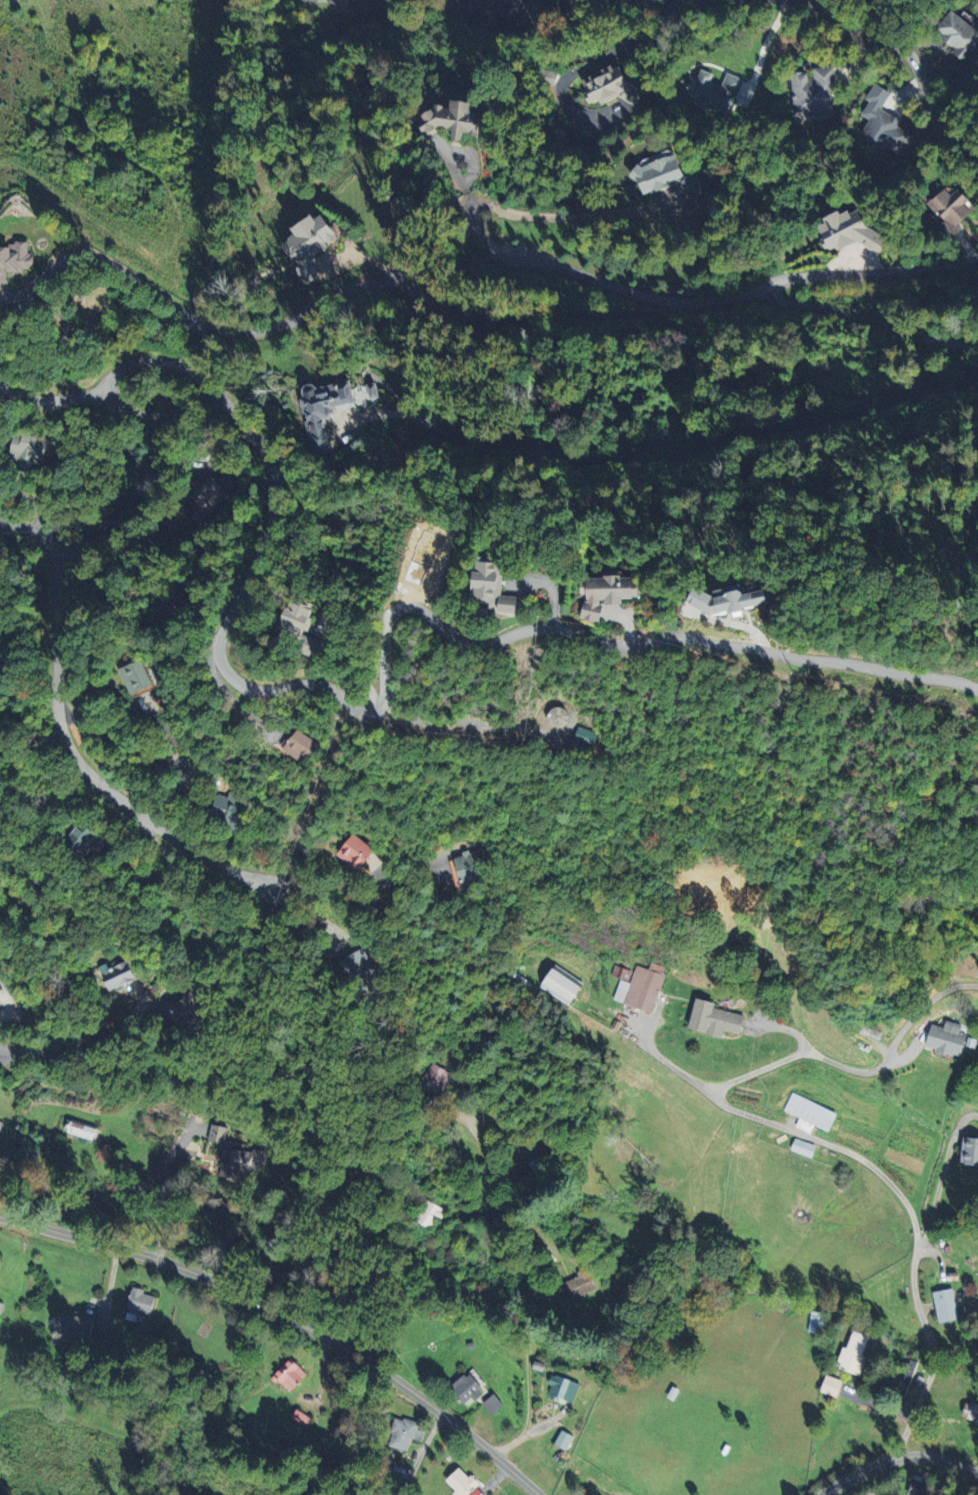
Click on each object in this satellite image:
building: (334, 2)
building: (488, 12)
building: (957, 34)
road: (765, 44)
road: (905, 57)
road: (587, 64)
building: (609, 87)
building: (711, 91)
building: (809, 92)
building: (450, 119)
building: (878, 122)
building: (661, 177)
building: (946, 209)
road: (576, 214)
building: (298, 245)
building: (21, 259)
road: (319, 302)
road: (687, 303)
road: (866, 325)
road: (50, 398)
building: (319, 411)
building: (28, 449)
road: (664, 454)
building: (213, 494)
road: (33, 501)
building: (466, 589)
building: (585, 595)
building: (174, 601)
building: (705, 602)
building: (291, 627)
building: (137, 677)
road: (280, 690)
building: (583, 736)
building: (302, 746)
road: (140, 756)
road: (86, 771)
building: (229, 807)
building: (82, 835)
building: (358, 852)
building: (469, 869)
building: (358, 968)
building: (115, 976)
building: (564, 987)
building: (642, 987)
building: (196, 1005)
building: (716, 1019)
building: (948, 1038)
road: (637, 1039)
road: (899, 1039)
road: (75, 1048)
road: (764, 1068)
building: (436, 1076)
building: (809, 1114)
building: (0, 1122)
building: (82, 1129)
building: (804, 1148)
building: (971, 1151)
building: (237, 1156)
building: (542, 1165)
road: (140, 1194)
building: (429, 1214)
road: (914, 1221)
building: (1, 1258)
building: (580, 1284)
road: (531, 1288)
building: (140, 1304)
building: (946, 1305)
building: (1, 1306)
road: (291, 1313)
building: (814, 1322)
building: (853, 1354)
building: (291, 1375)
building: (831, 1386)
building: (468, 1388)
building: (563, 1389)
building: (494, 1404)
building: (971, 1412)
building: (302, 1417)
building: (407, 1433)
building: (564, 1440)
road: (420, 1453)
road: (896, 1455)
road: (941, 1475)
building: (464, 1484)
building: (919, 1484)

